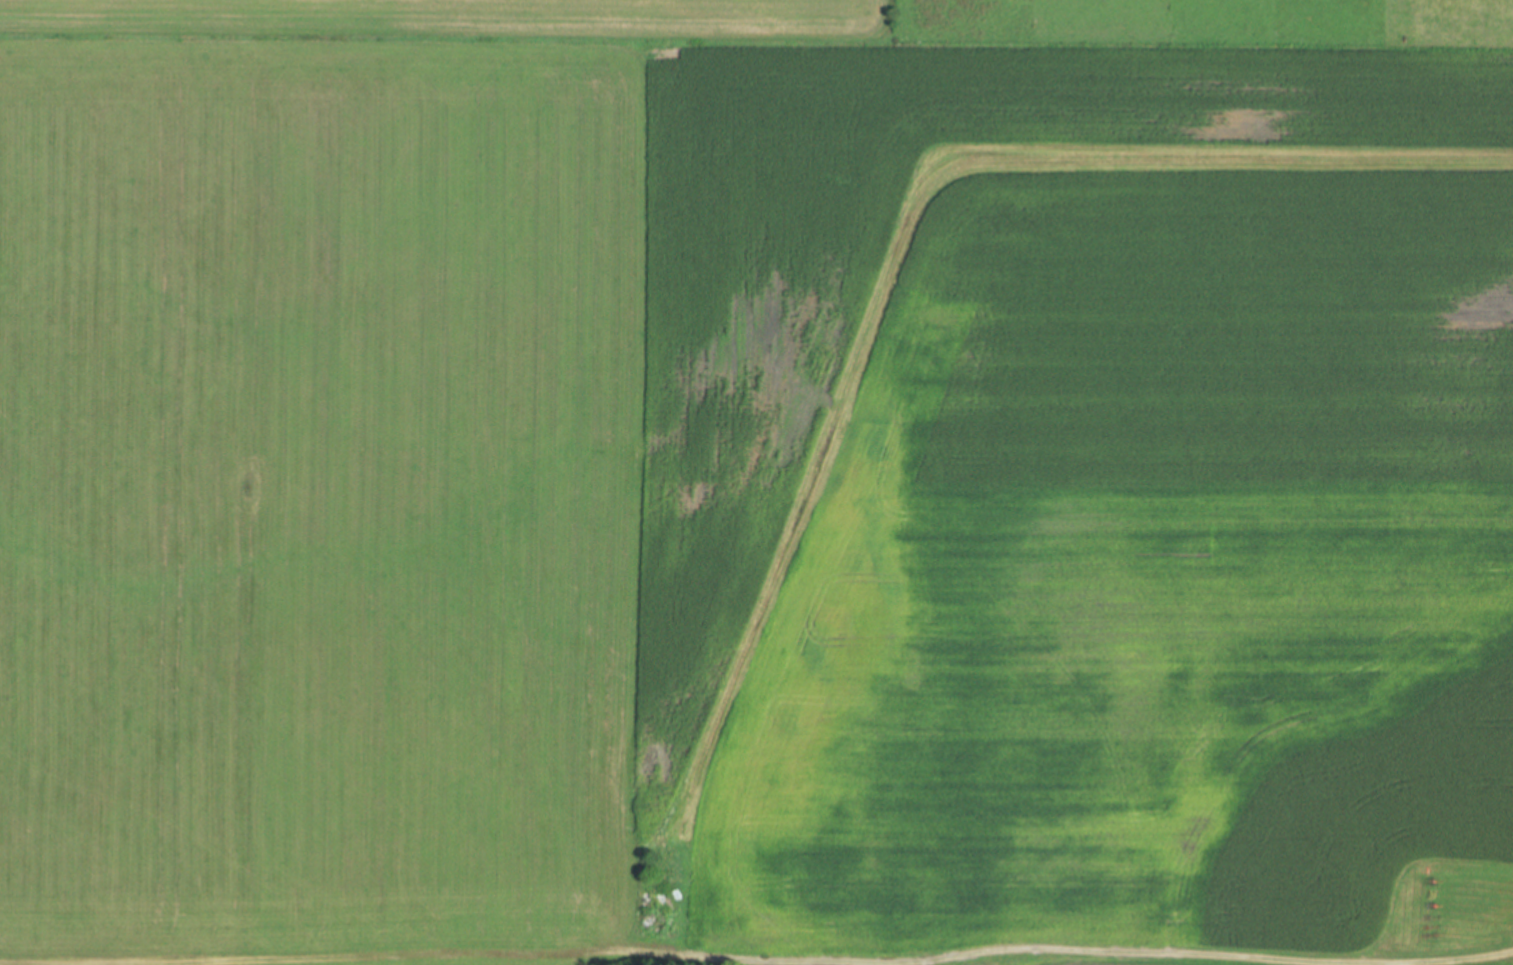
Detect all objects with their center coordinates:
road: (1125, 956)
road: (389, 957)
road: (1463, 959)

